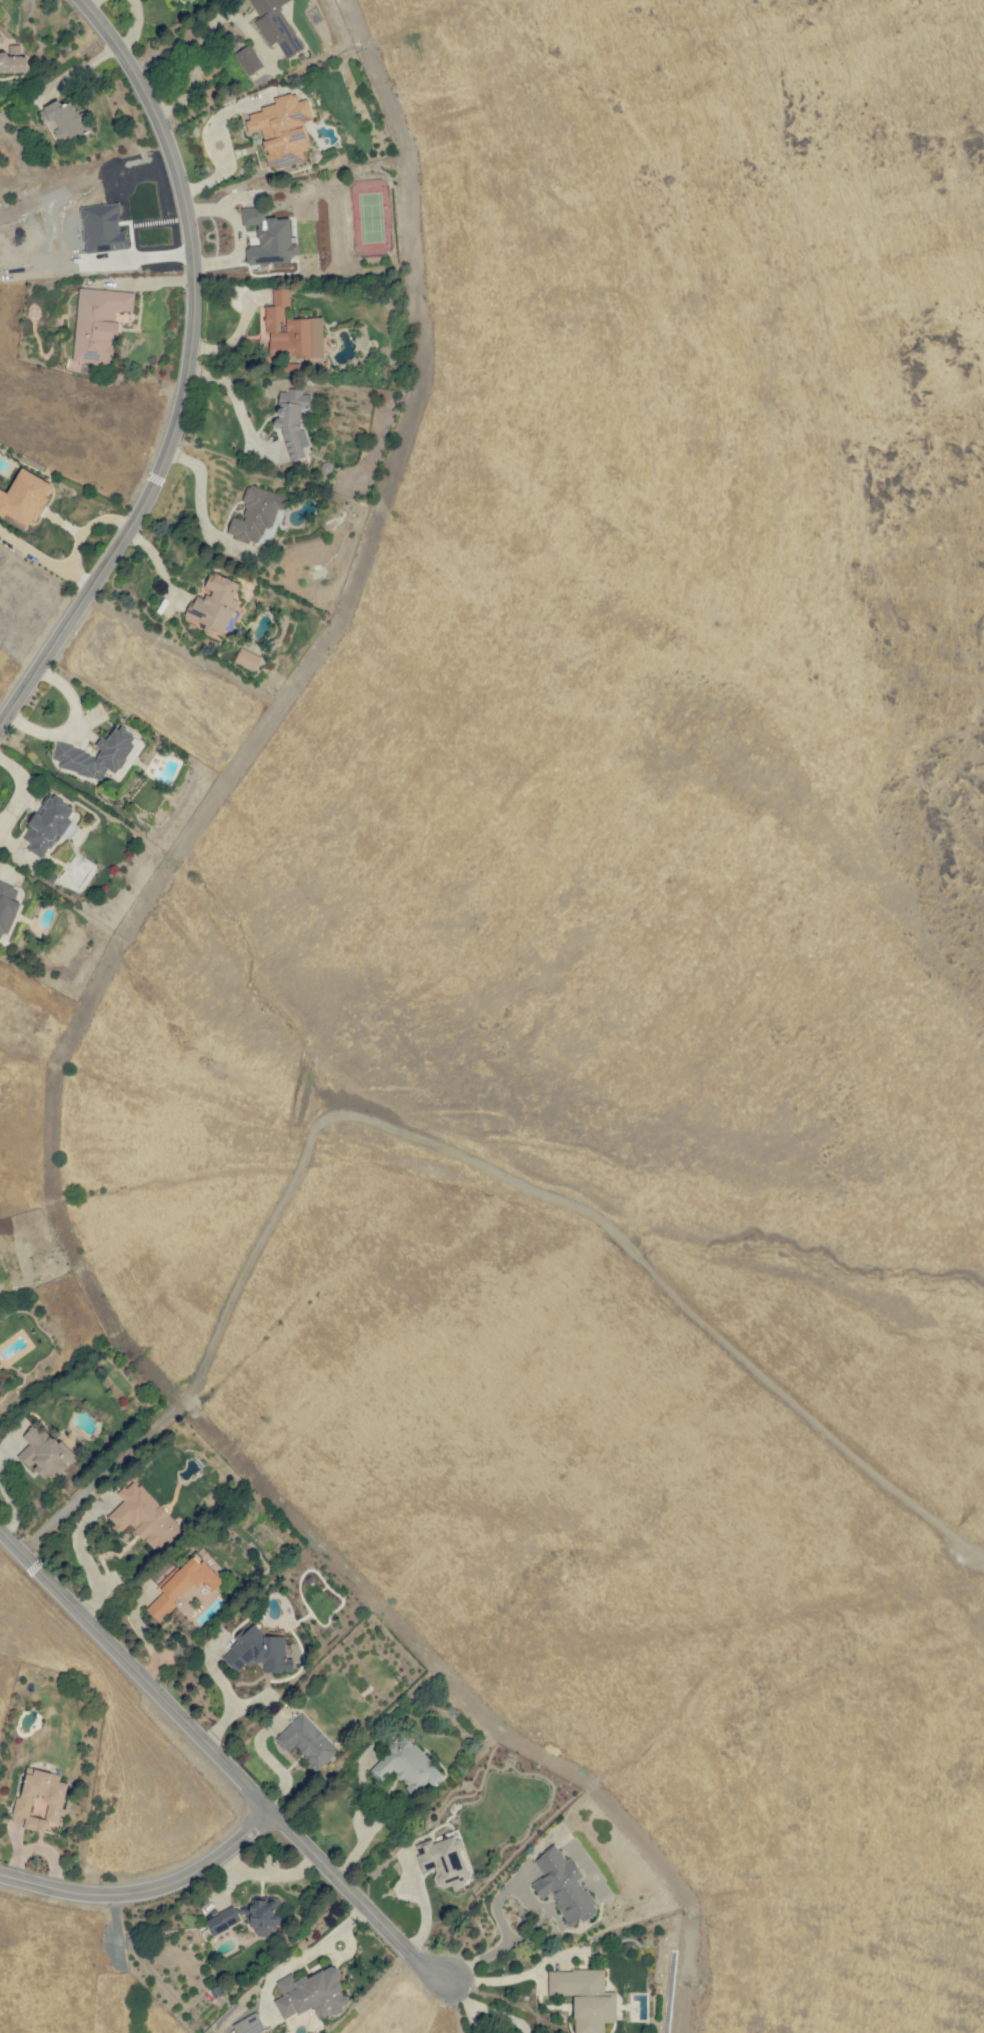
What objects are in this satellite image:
building: (187, 0)
building: (275, 26)
building: (1, 38)
building: (13, 60)
road: (195, 60)
building: (249, 60)
building: (63, 118)
building: (282, 129)
building: (102, 229)
building: (269, 238)
building: (98, 323)
building: (292, 331)
road: (183, 369)
building: (293, 421)
building: (24, 498)
building: (256, 515)
building: (214, 605)
building: (248, 660)
building: (70, 753)
building: (48, 825)
building: (7, 908)
building: (0, 1390)
building: (45, 1454)
building: (141, 1513)
road: (82, 1559)
building: (183, 1585)
building: (259, 1651)
road: (226, 1695)
building: (307, 1741)
road: (271, 1765)
building: (406, 1766)
road: (234, 1780)
building: (41, 1801)
building: (446, 1862)
building: (563, 1886)
road: (351, 1898)
building: (263, 1915)
building: (222, 1921)
road: (492, 1981)
road: (456, 1993)
building: (312, 1994)
building: (585, 1998)
road: (498, 2015)
road: (471, 2021)
building: (249, 2025)

